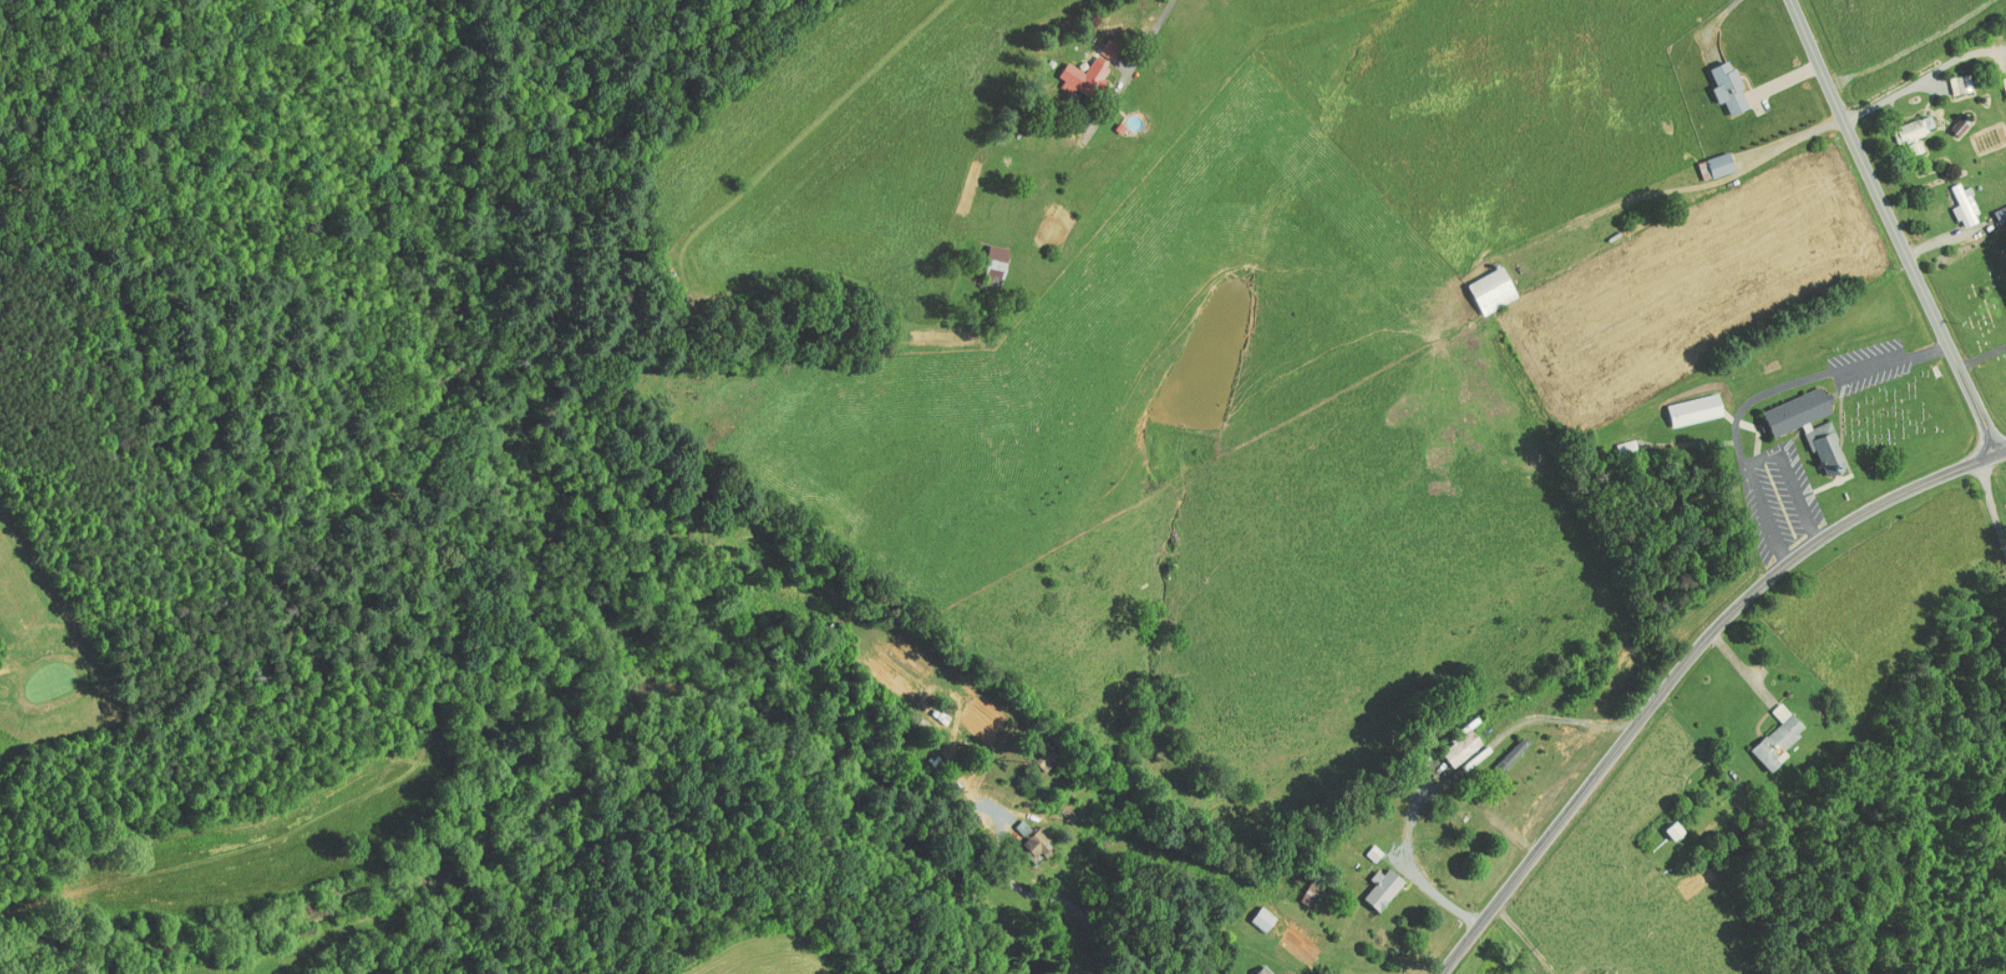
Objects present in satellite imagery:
road: (1143, 47)
building: (1074, 69)
building: (1950, 77)
building: (1719, 80)
building: (2000, 80)
building: (1903, 126)
building: (1706, 159)
building: (1954, 199)
road: (1893, 227)
building: (984, 258)
building: (1482, 283)
building: (1685, 403)
building: (1798, 419)
road: (1992, 505)
park: (48, 653)
road: (1683, 664)
building: (1767, 732)
building: (1451, 741)
building: (1504, 745)
road: (1453, 775)
road: (1004, 815)
building: (1012, 821)
building: (1664, 824)
building: (1027, 836)
building: (1373, 883)
road: (1058, 897)
building: (1253, 912)
road: (1525, 938)
building: (1254, 968)

